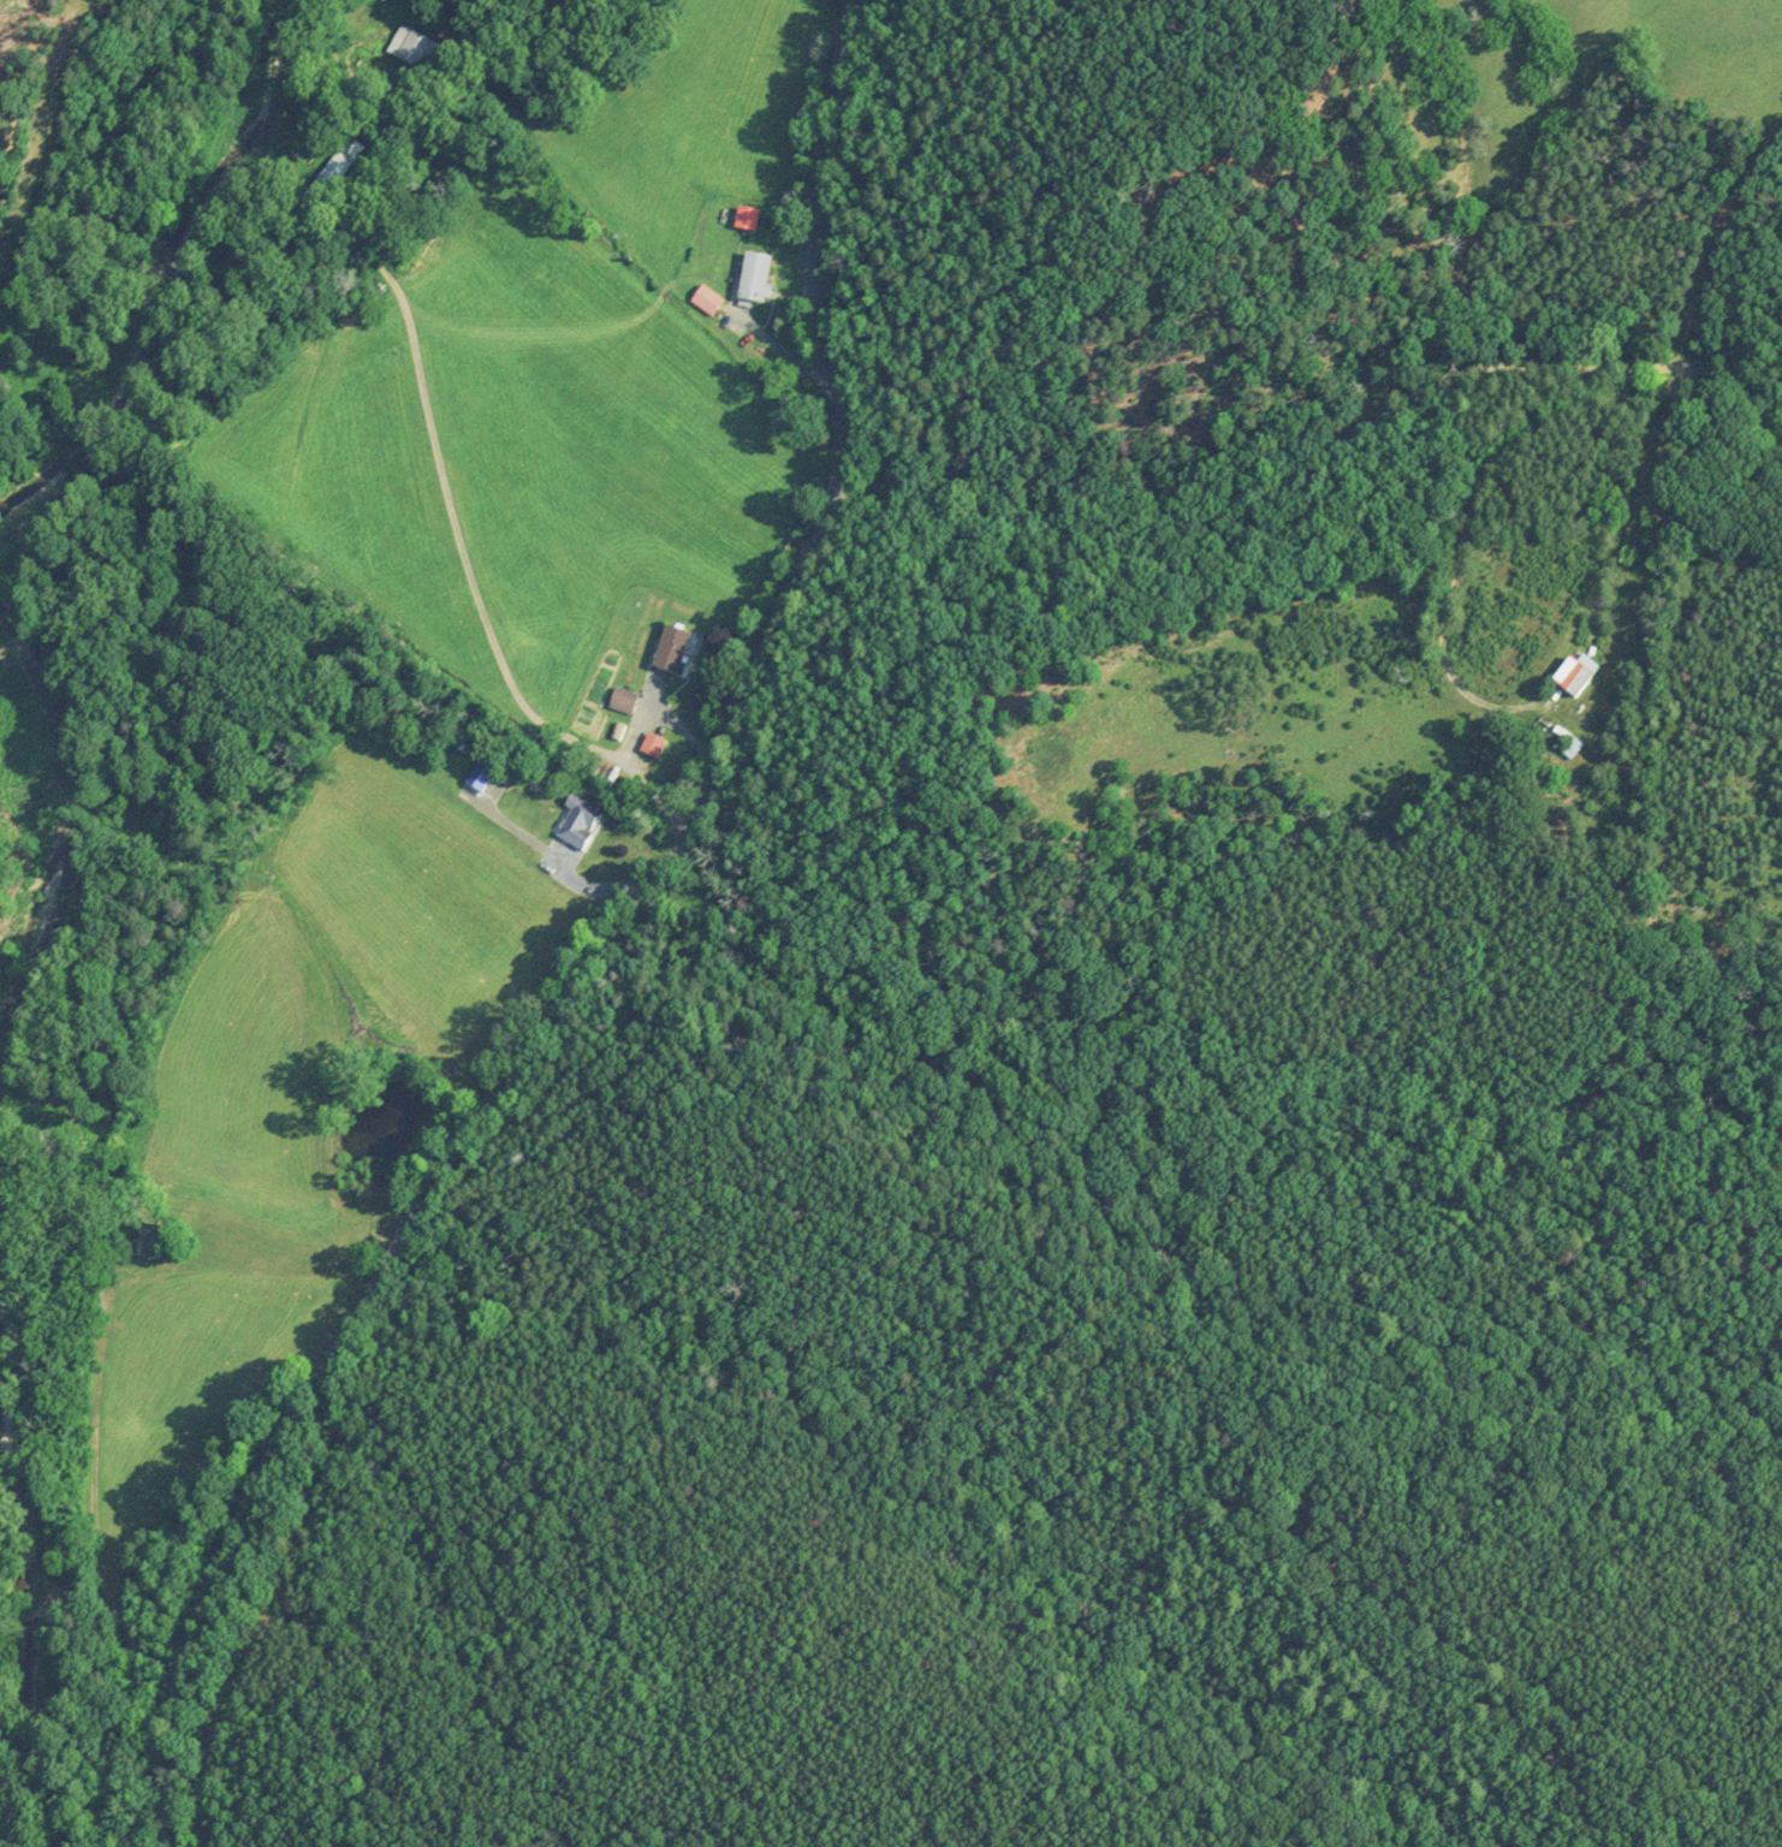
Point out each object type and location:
building: (332, 174)
building: (746, 218)
river: (165, 274)
building: (755, 278)
road: (1300, 441)
road: (1674, 499)
building: (672, 651)
building: (1572, 678)
building: (623, 700)
building: (652, 744)
building: (576, 824)
river: (71, 844)
road: (625, 915)
road: (102, 1627)
river: (20, 1633)
road: (170, 1800)

